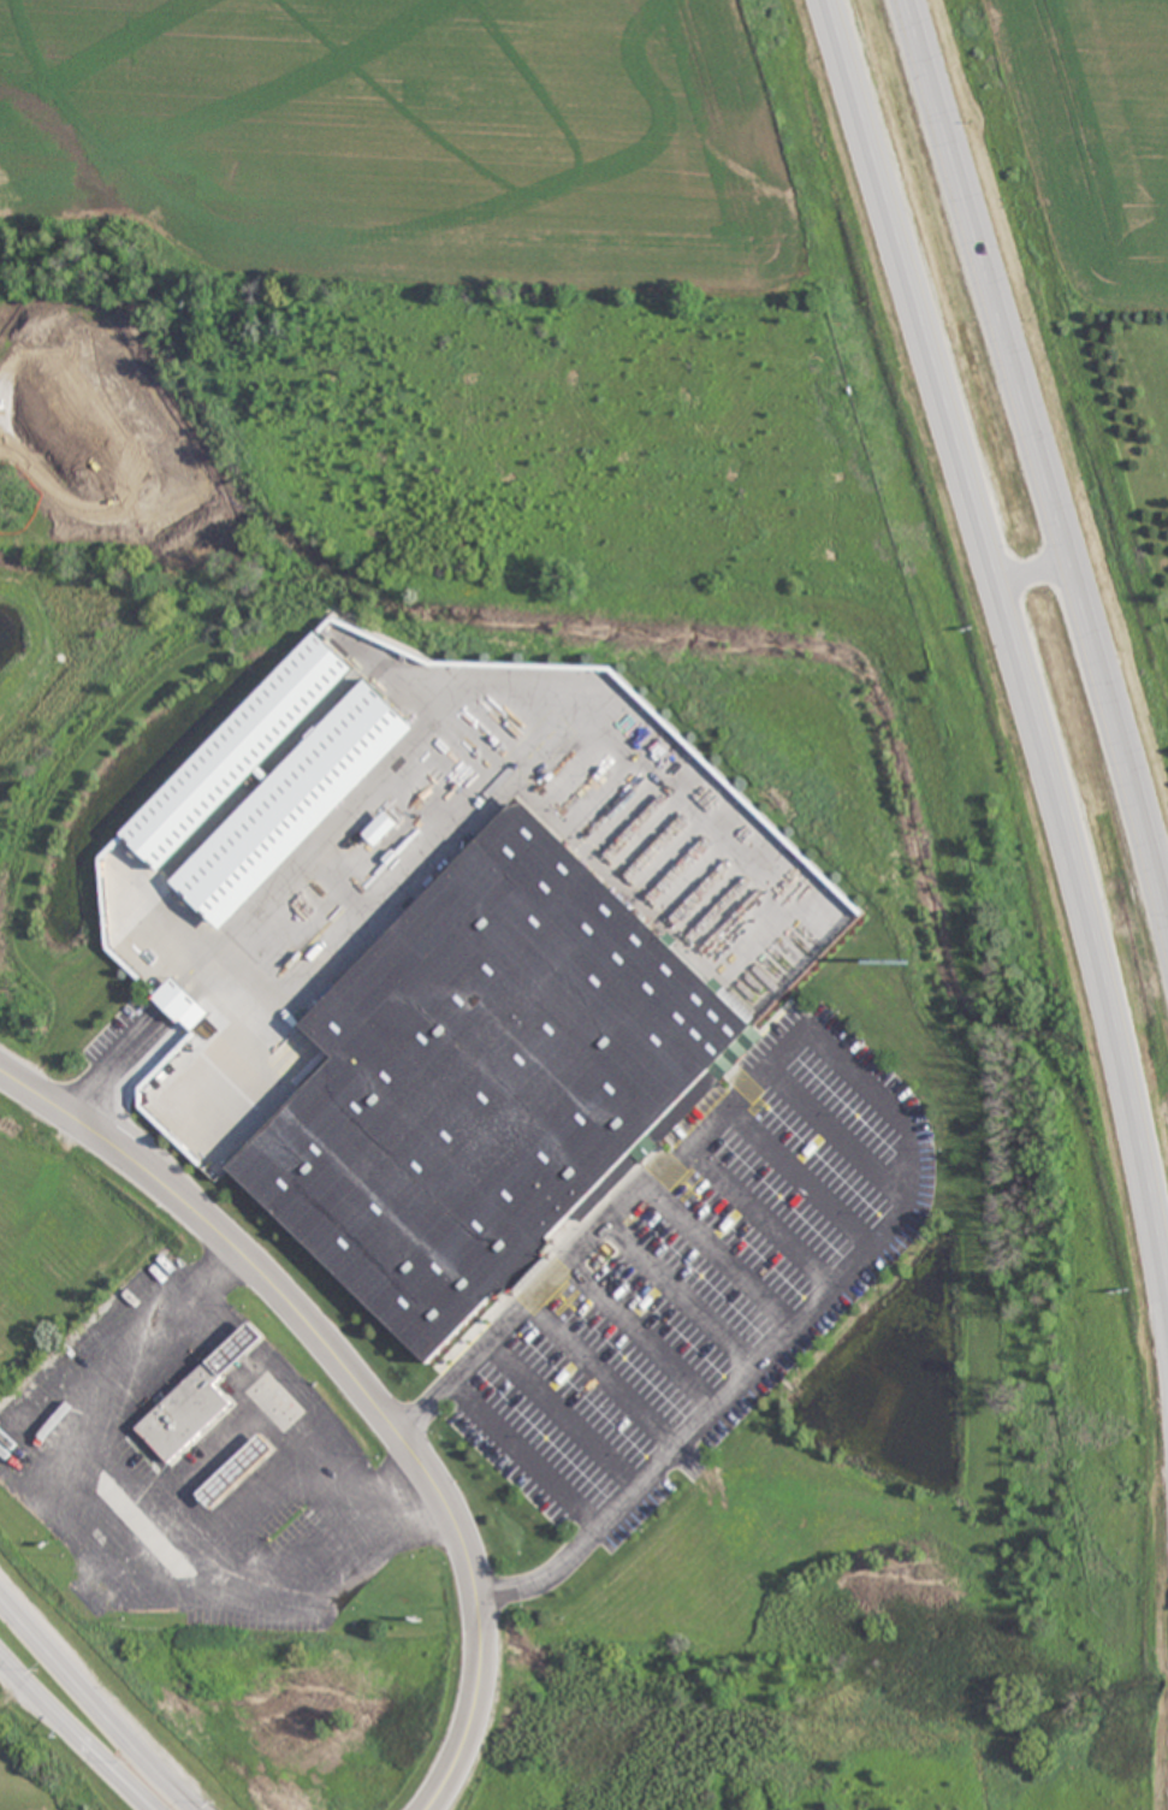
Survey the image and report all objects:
crop: (411, 140)
building: (76, 342)
building: (340, 409)
building: (595, 420)
building: (492, 424)
building: (701, 427)
road: (775, 430)
road: (1040, 446)
parking lot: (278, 451)
road: (121, 456)
road: (1013, 637)
building: (295, 805)
building: (177, 1001)
building: (479, 1083)
road: (890, 1107)
parking lot: (700, 1278)
road: (355, 1383)
building: (178, 1418)
building: (230, 1474)
gas station: (230, 1474)
road: (94, 1705)
road: (77, 1729)
crop: (45, 1765)

